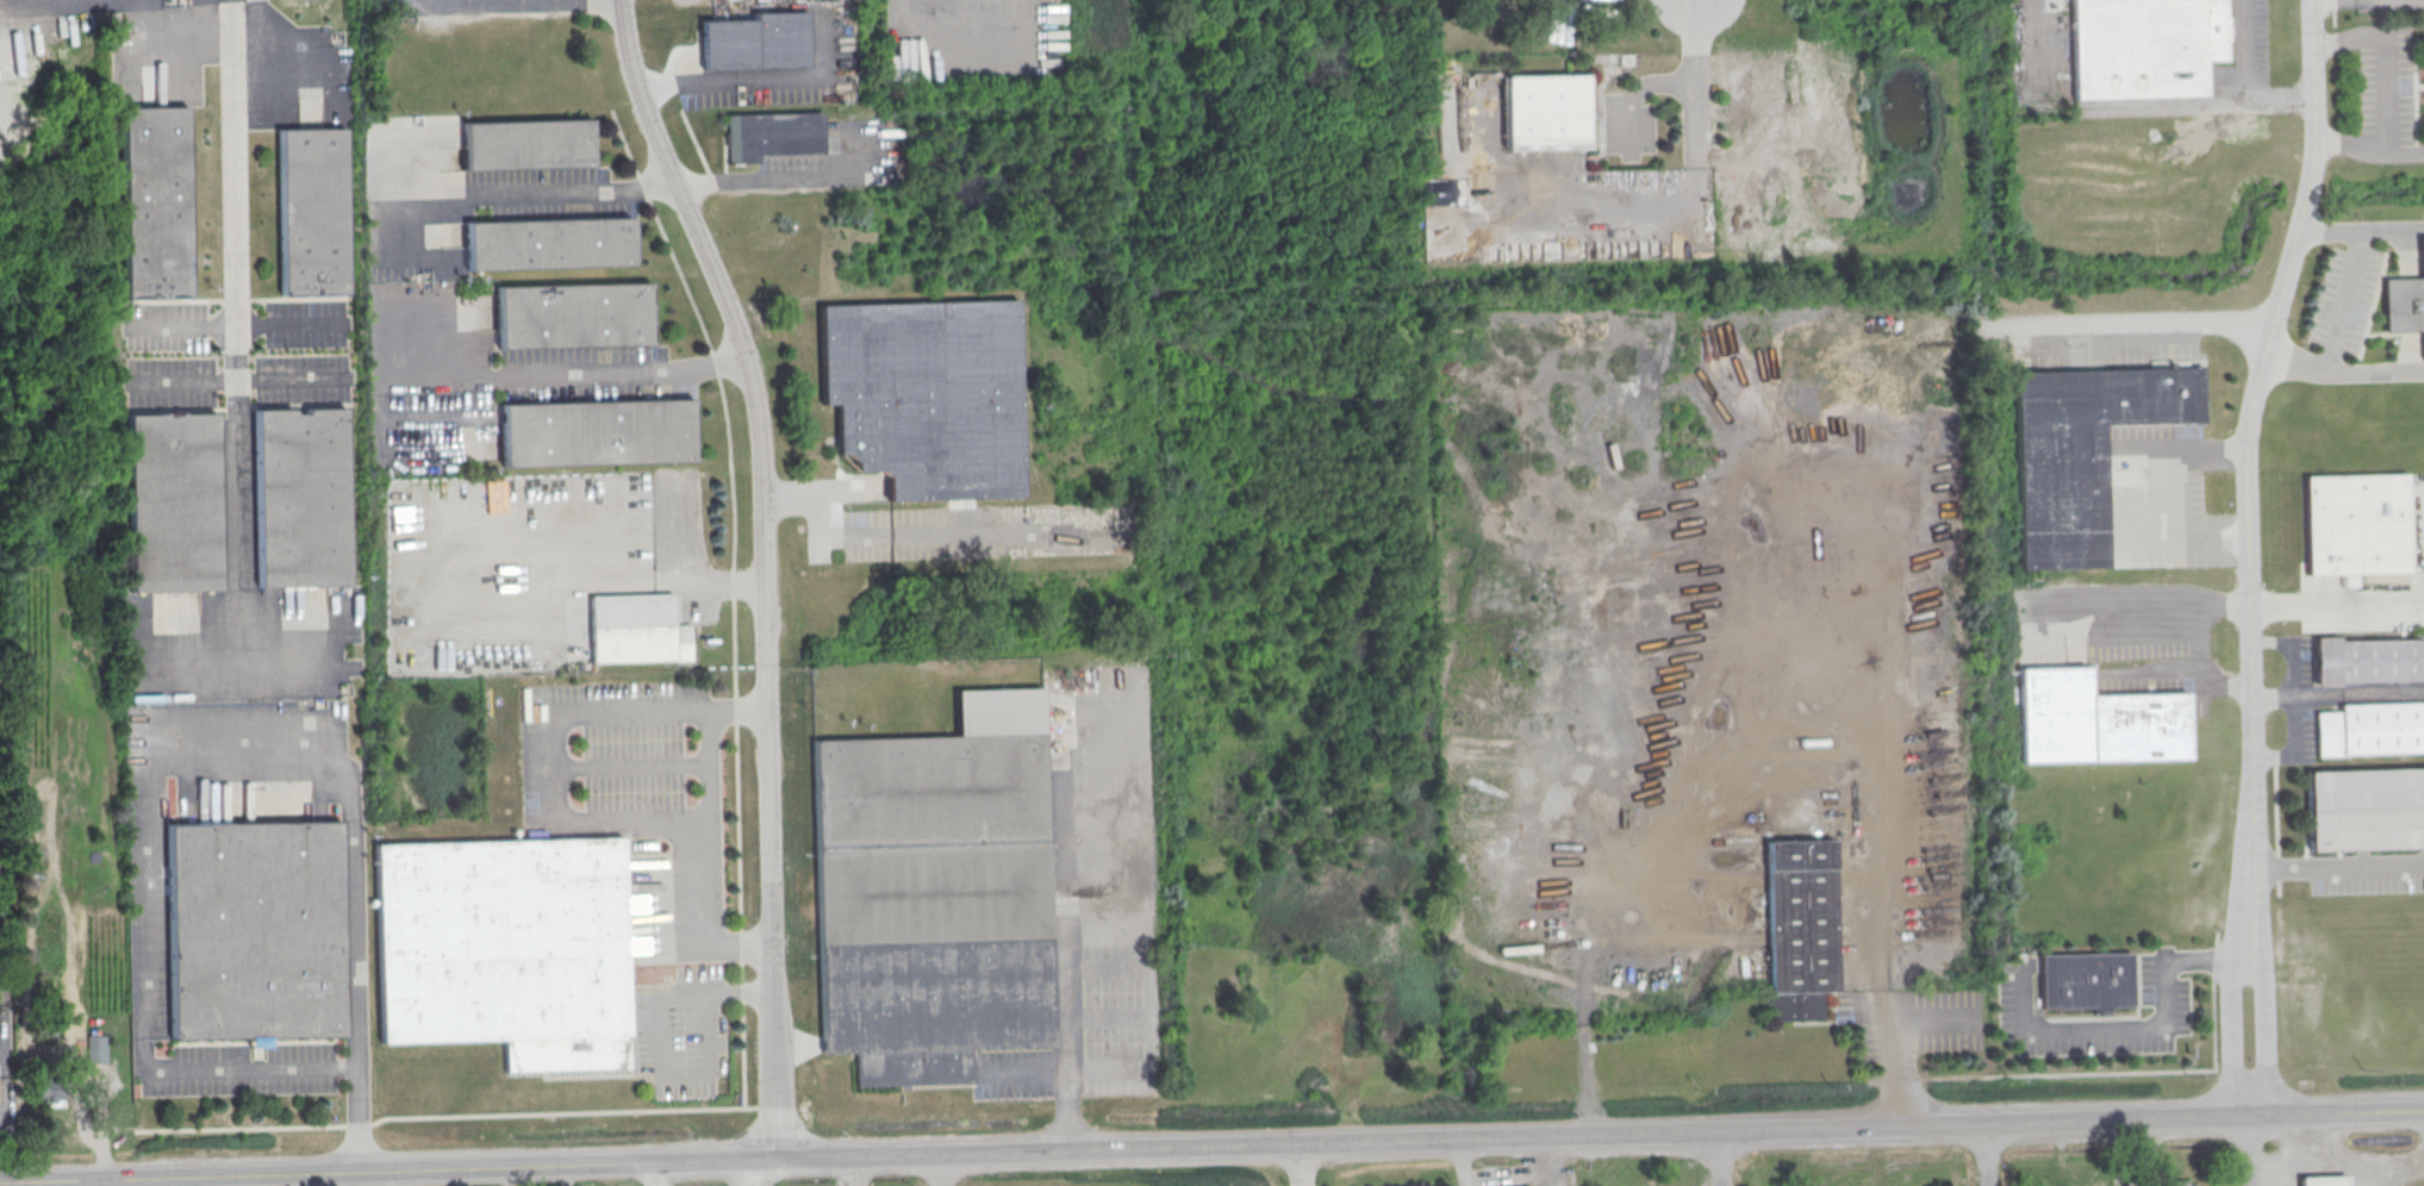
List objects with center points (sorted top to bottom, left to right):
road: (513, 1)
road: (2323, 1)
building: (755, 40)
building: (2145, 46)
road: (2244, 51)
road: (721, 77)
road: (2384, 94)
road: (2114, 107)
building: (1545, 113)
building: (772, 135)
road: (693, 141)
building: (526, 145)
road: (778, 180)
road: (532, 195)
building: (155, 204)
road: (1671, 205)
building: (312, 212)
road: (2360, 230)
road: (2358, 237)
building: (548, 243)
road: (2342, 298)
building: (2404, 301)
building: (573, 316)
road: (288, 323)
road: (2117, 325)
road: (185, 327)
road: (704, 333)
road: (236, 341)
road: (2325, 361)
road: (2342, 369)
road: (566, 375)
building: (924, 395)
building: (597, 433)
building: (2081, 451)
road: (2243, 474)
road: (839, 492)
road: (787, 497)
building: (301, 498)
building: (173, 504)
building: (2356, 524)
road: (942, 533)
road: (761, 567)
road: (658, 580)
road: (733, 586)
road: (2152, 592)
road: (2335, 605)
building: (636, 629)
building: (2367, 660)
road: (2194, 662)
road: (2272, 693)
road: (2294, 699)
building: (2095, 722)
building: (2370, 728)
road: (735, 766)
road: (627, 768)
road: (544, 770)
road: (351, 797)
road: (709, 801)
building: (2366, 811)
road: (2336, 869)
building: (934, 894)
building: (1799, 926)
building: (254, 931)
road: (2216, 938)
road: (740, 943)
road: (740, 945)
building: (505, 948)
road: (1067, 951)
road: (2204, 957)
road: (2213, 961)
road: (740, 969)
road: (1872, 982)
building: (2085, 982)
road: (741, 991)
road: (143, 1025)
road: (2099, 1029)
road: (2268, 1031)
road: (2230, 1034)
road: (658, 1040)
building: (96, 1049)
road: (742, 1054)
road: (2113, 1072)
road: (1898, 1080)
road: (1870, 1082)
building: (48, 1090)
road: (765, 1106)
road: (562, 1112)
road: (357, 1119)
road: (357, 1124)
road: (238, 1128)
road: (1211, 1146)
road: (2247, 1150)
road: (1982, 1155)
road: (1718, 1159)
road: (1546, 1161)
road: (1459, 1162)
road: (1301, 1165)
road: (943, 1169)
road: (848, 1171)
road: (748, 1172)
road: (656, 1174)
road: (1502, 1175)
road: (1459, 1181)
building: (2179, 1182)
building: (2323, 1182)
road: (52, 1184)
road: (94, 1184)

